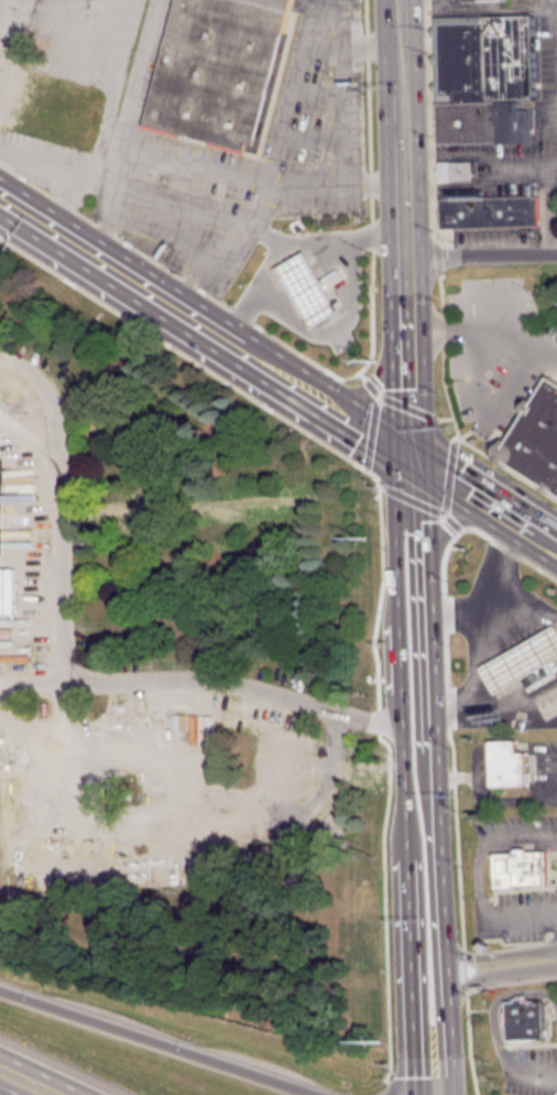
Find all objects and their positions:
building: (465, 0)
road: (106, 4)
road: (477, 9)
road: (327, 11)
road: (369, 43)
building: (484, 57)
building: (222, 69)
road: (109, 88)
building: (481, 121)
road: (128, 128)
road: (54, 161)
road: (525, 161)
road: (492, 166)
building: (454, 170)
road: (306, 187)
road: (65, 197)
building: (490, 212)
road: (402, 227)
road: (370, 236)
road: (324, 242)
road: (480, 254)
road: (206, 259)
building: (330, 275)
building: (307, 289)
road: (205, 326)
road: (484, 330)
power tower: (373, 358)
road: (192, 359)
building: (537, 437)
traffic signals: (409, 456)
road: (411, 478)
road: (483, 502)
road: (57, 506)
road: (450, 524)
power tower: (363, 534)
road: (378, 601)
building: (521, 660)
building: (534, 675)
road: (233, 682)
building: (505, 762)
road: (400, 778)
road: (476, 778)
road: (427, 780)
building: (517, 867)
road: (477, 882)
road: (382, 900)
road: (521, 962)
road: (483, 968)
building: (523, 1019)
power tower: (374, 1042)
road: (163, 1043)
road: (44, 1074)
road: (428, 1075)
road: (536, 1076)
road: (385, 1087)
road: (12, 1088)

